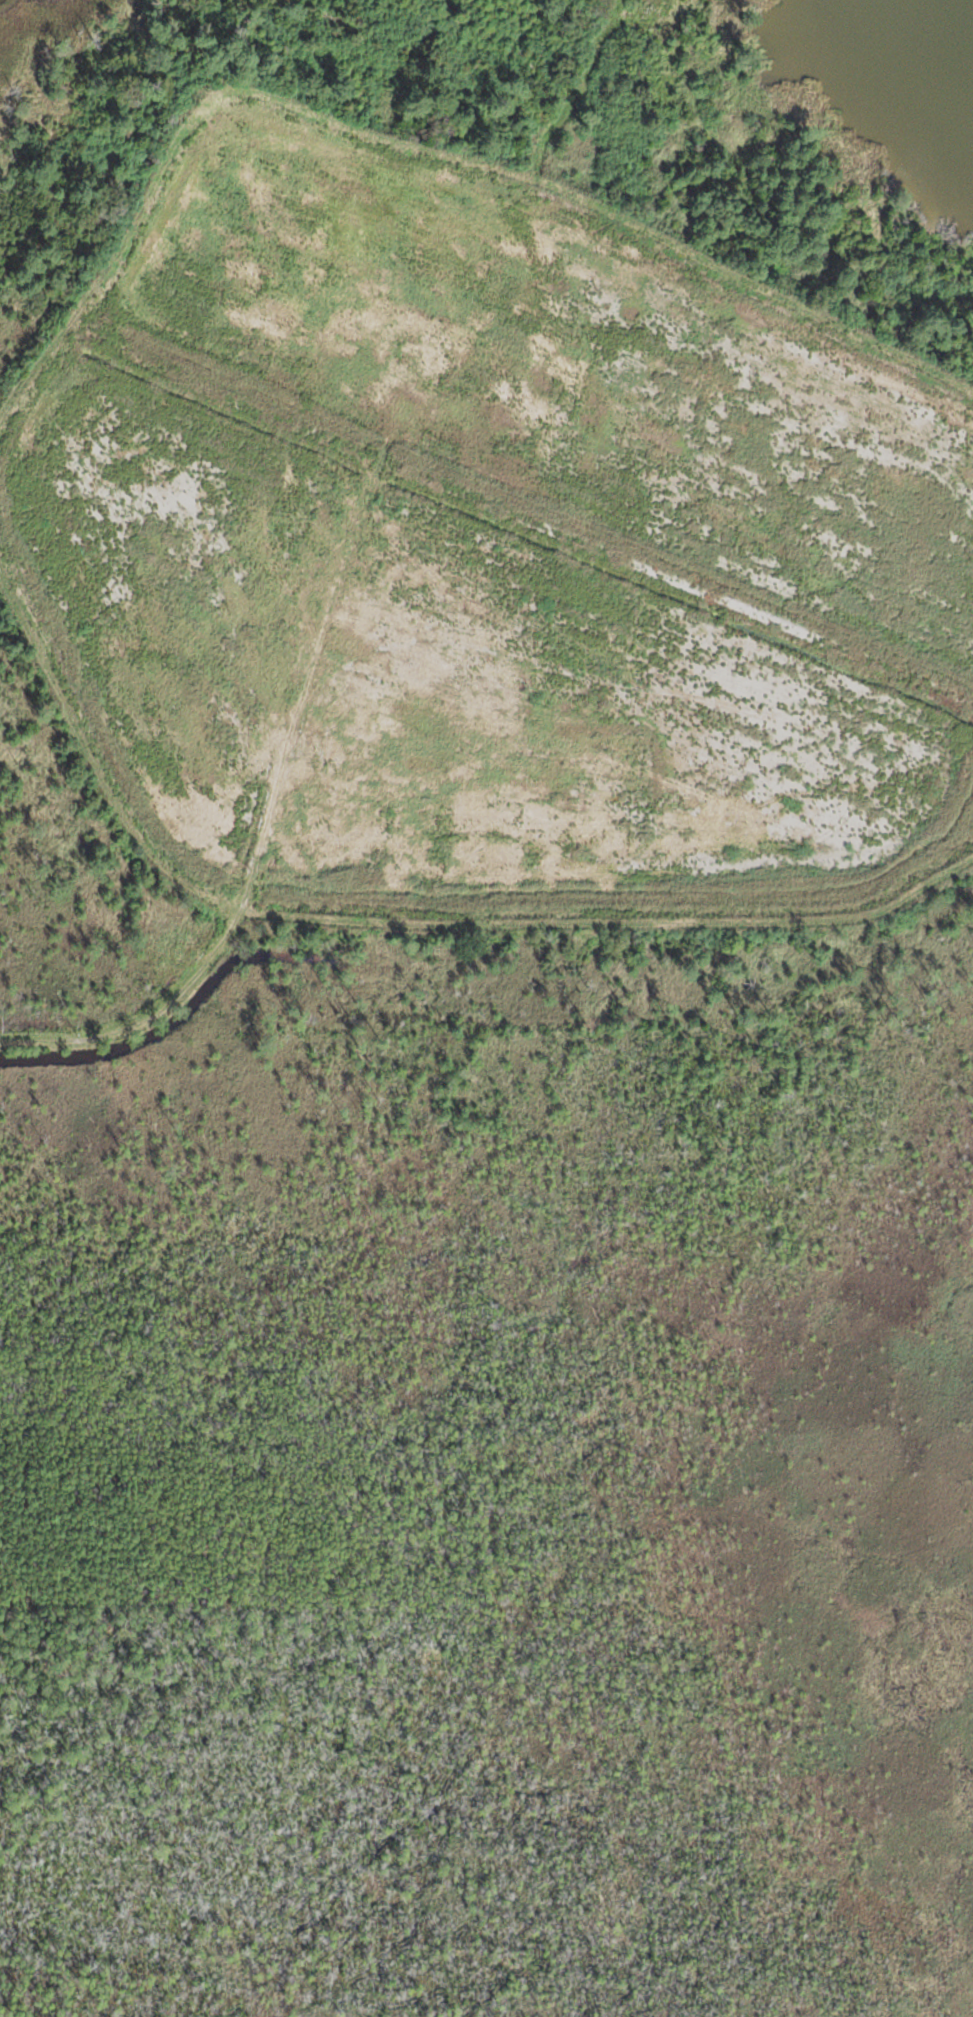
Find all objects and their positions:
road: (71, 1026)

